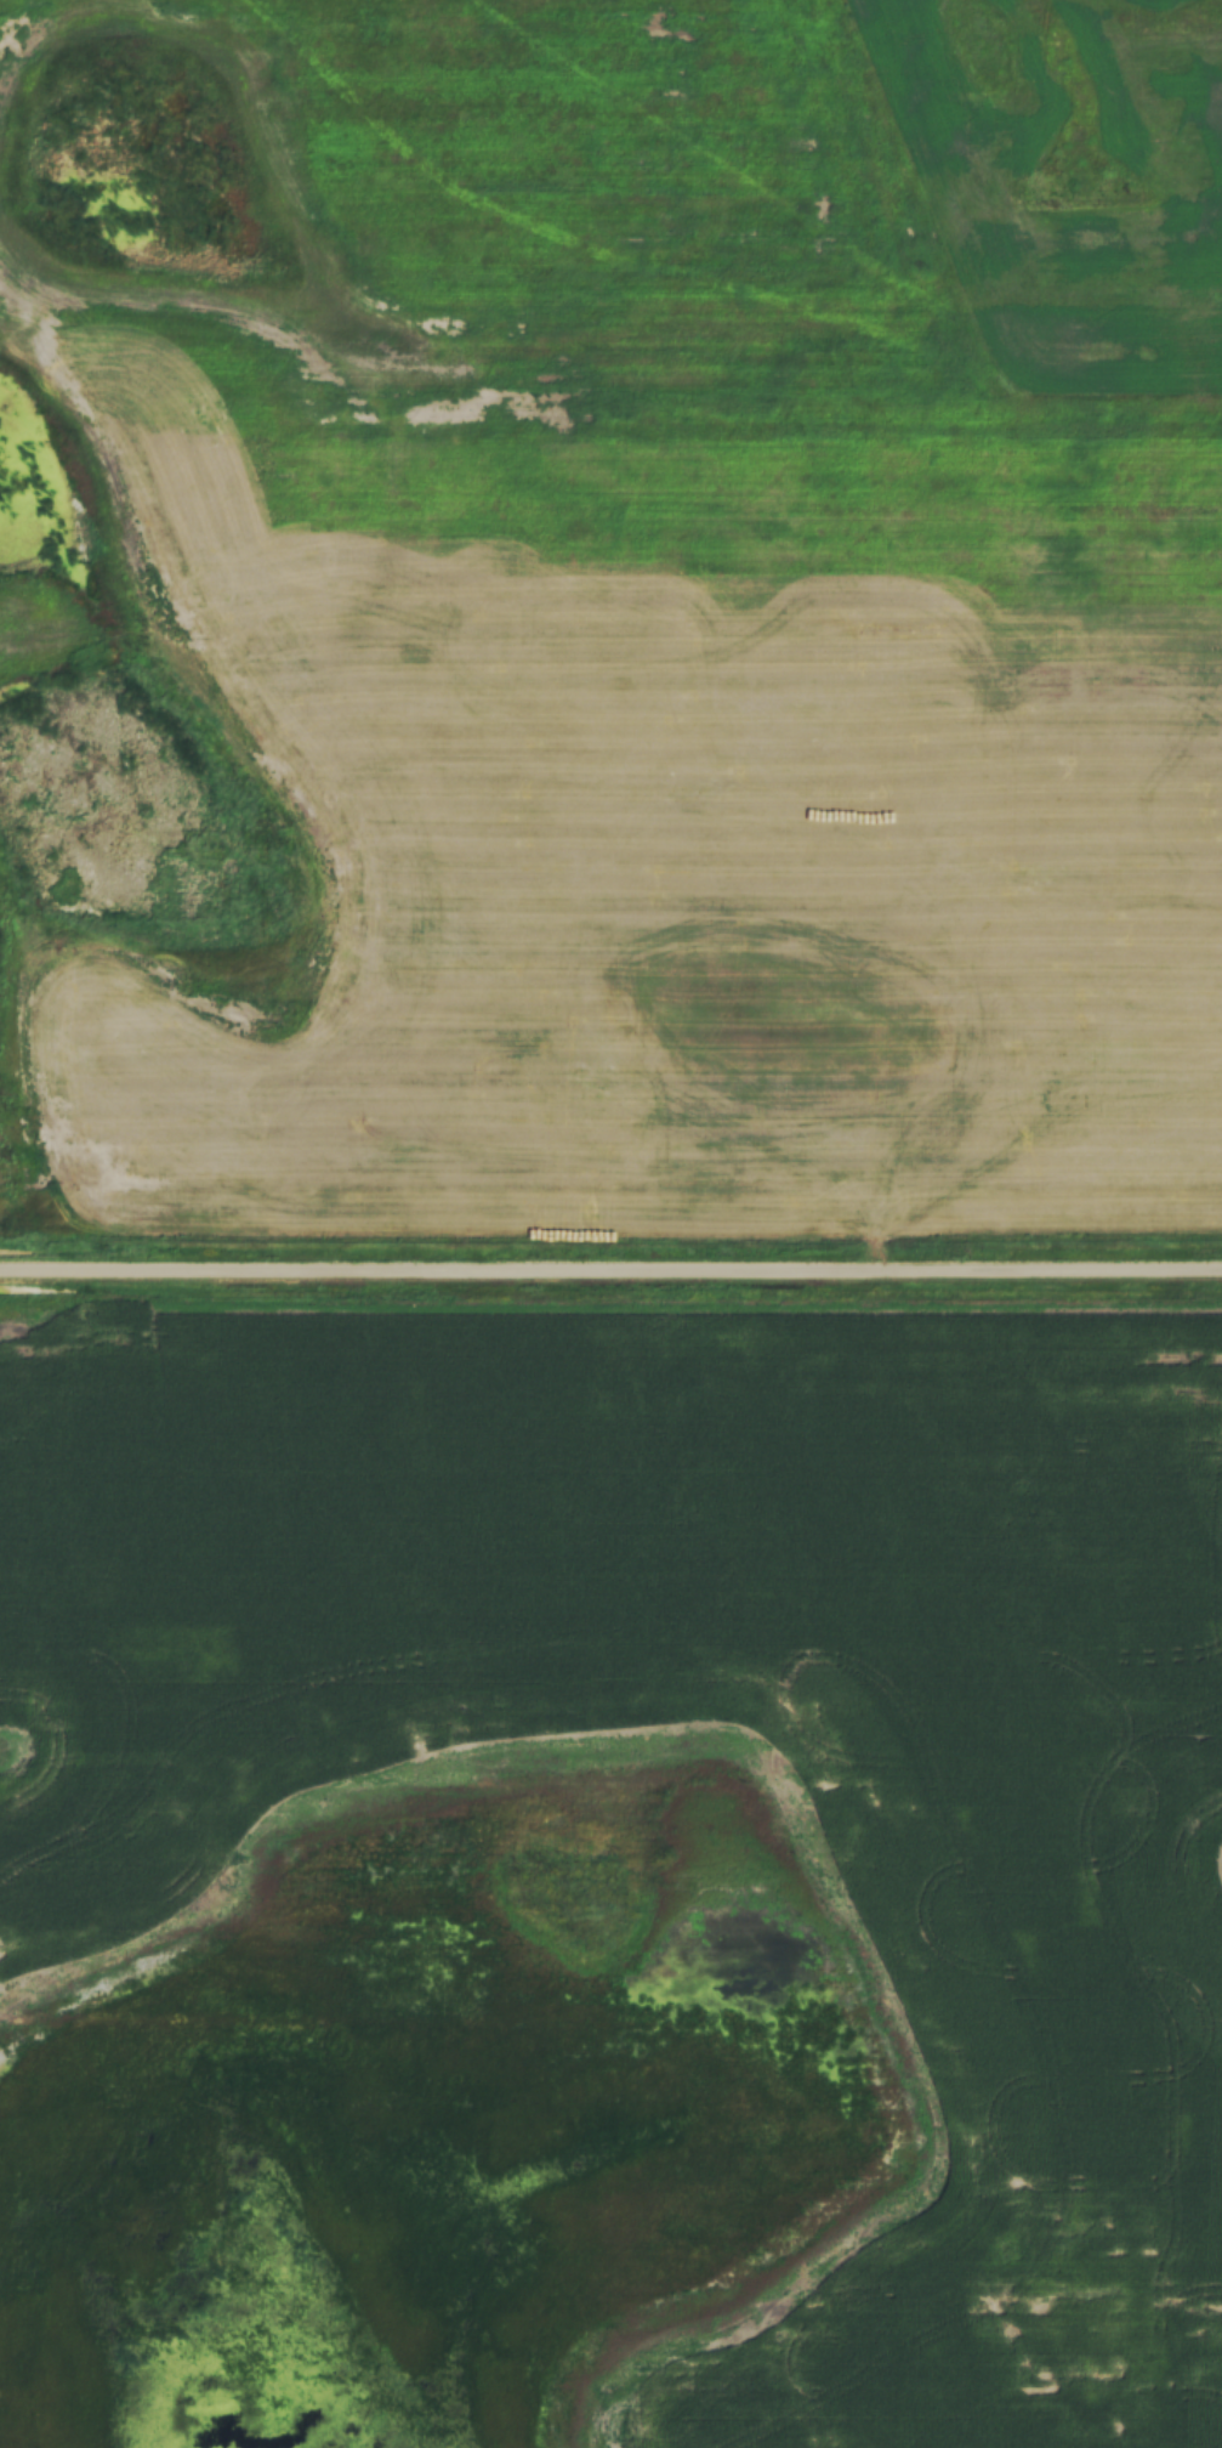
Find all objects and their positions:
road: (610, 1266)

